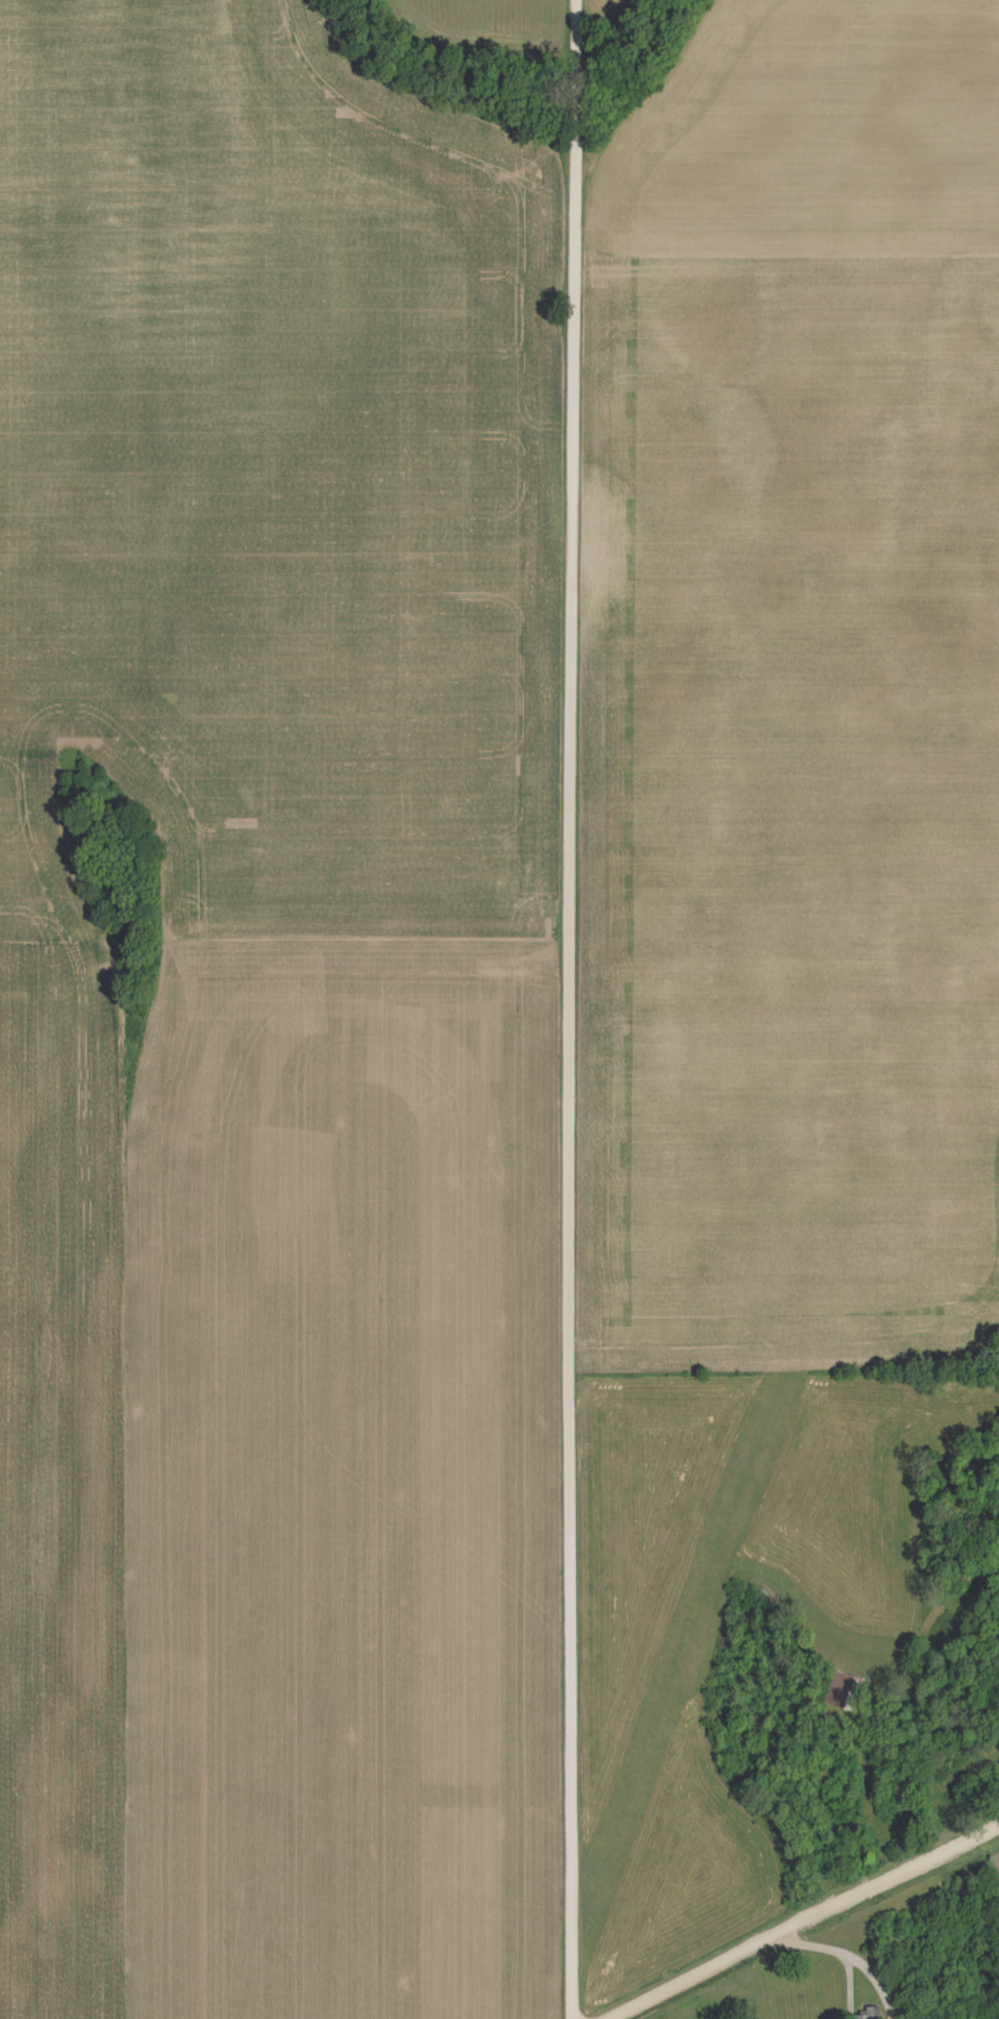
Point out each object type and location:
road: (565, 1009)
road: (803, 1919)
road: (850, 1958)
building: (870, 2014)

